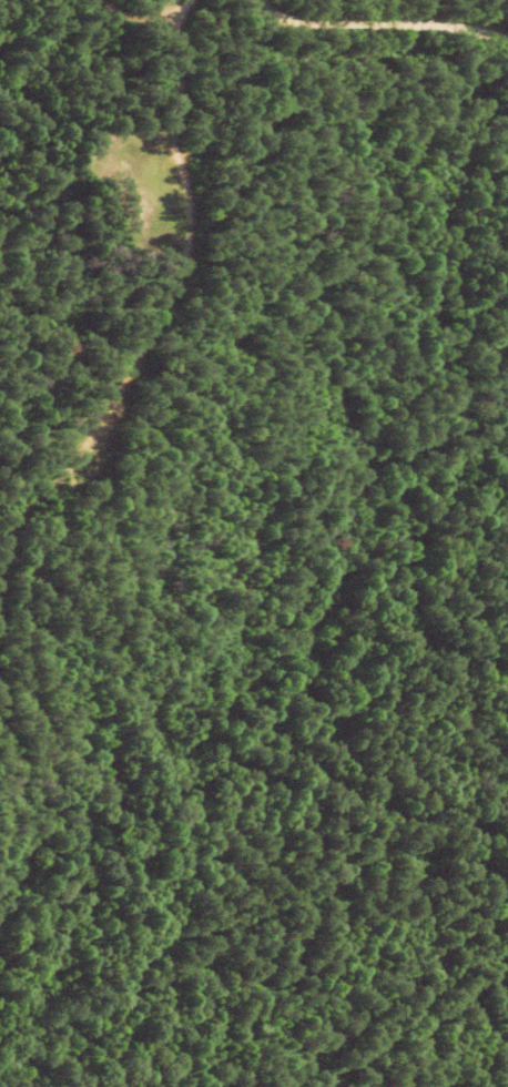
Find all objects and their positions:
road: (414, 16)

